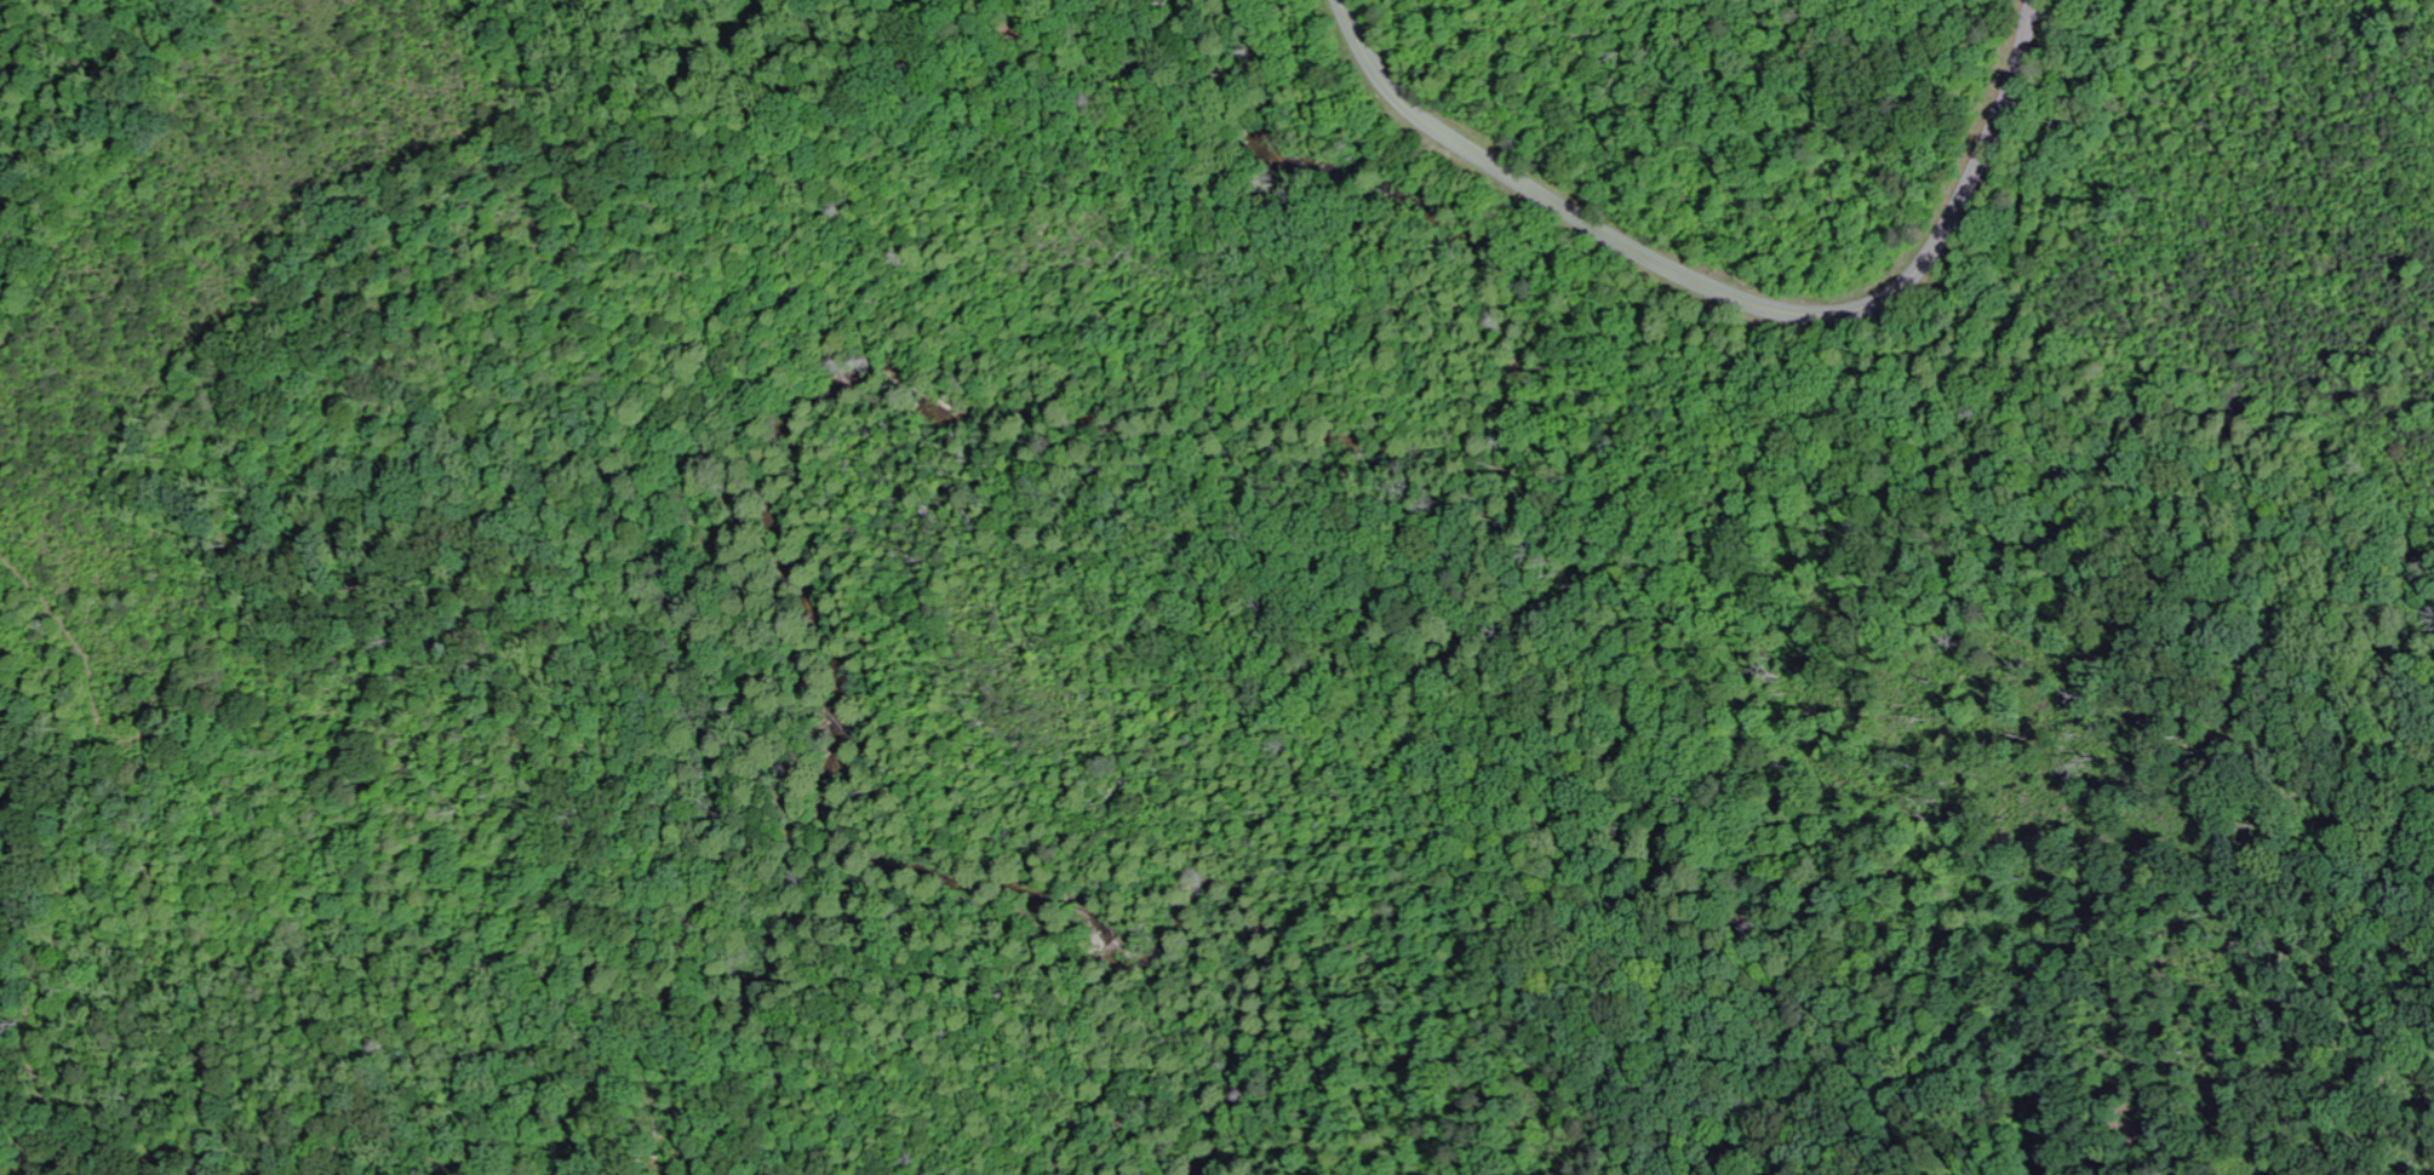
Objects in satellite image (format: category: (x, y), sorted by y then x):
road: (1728, 296)

